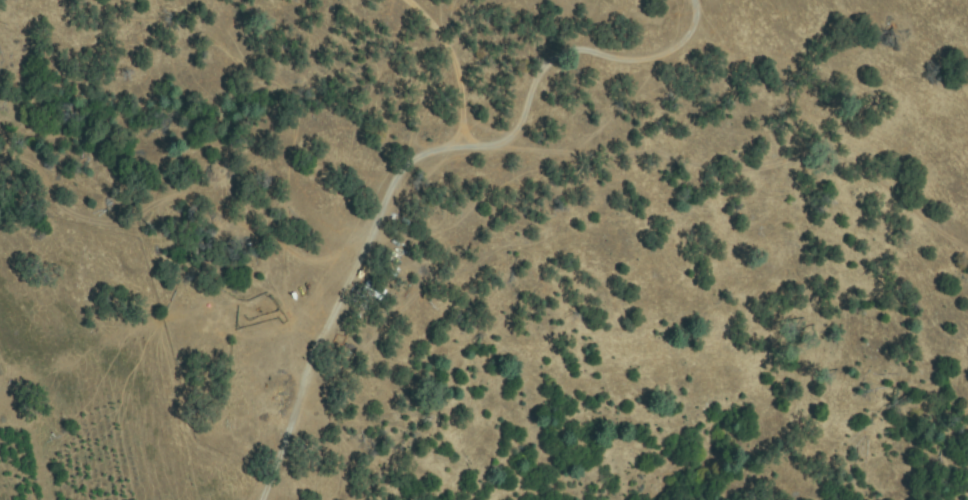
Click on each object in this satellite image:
road: (412, 162)

